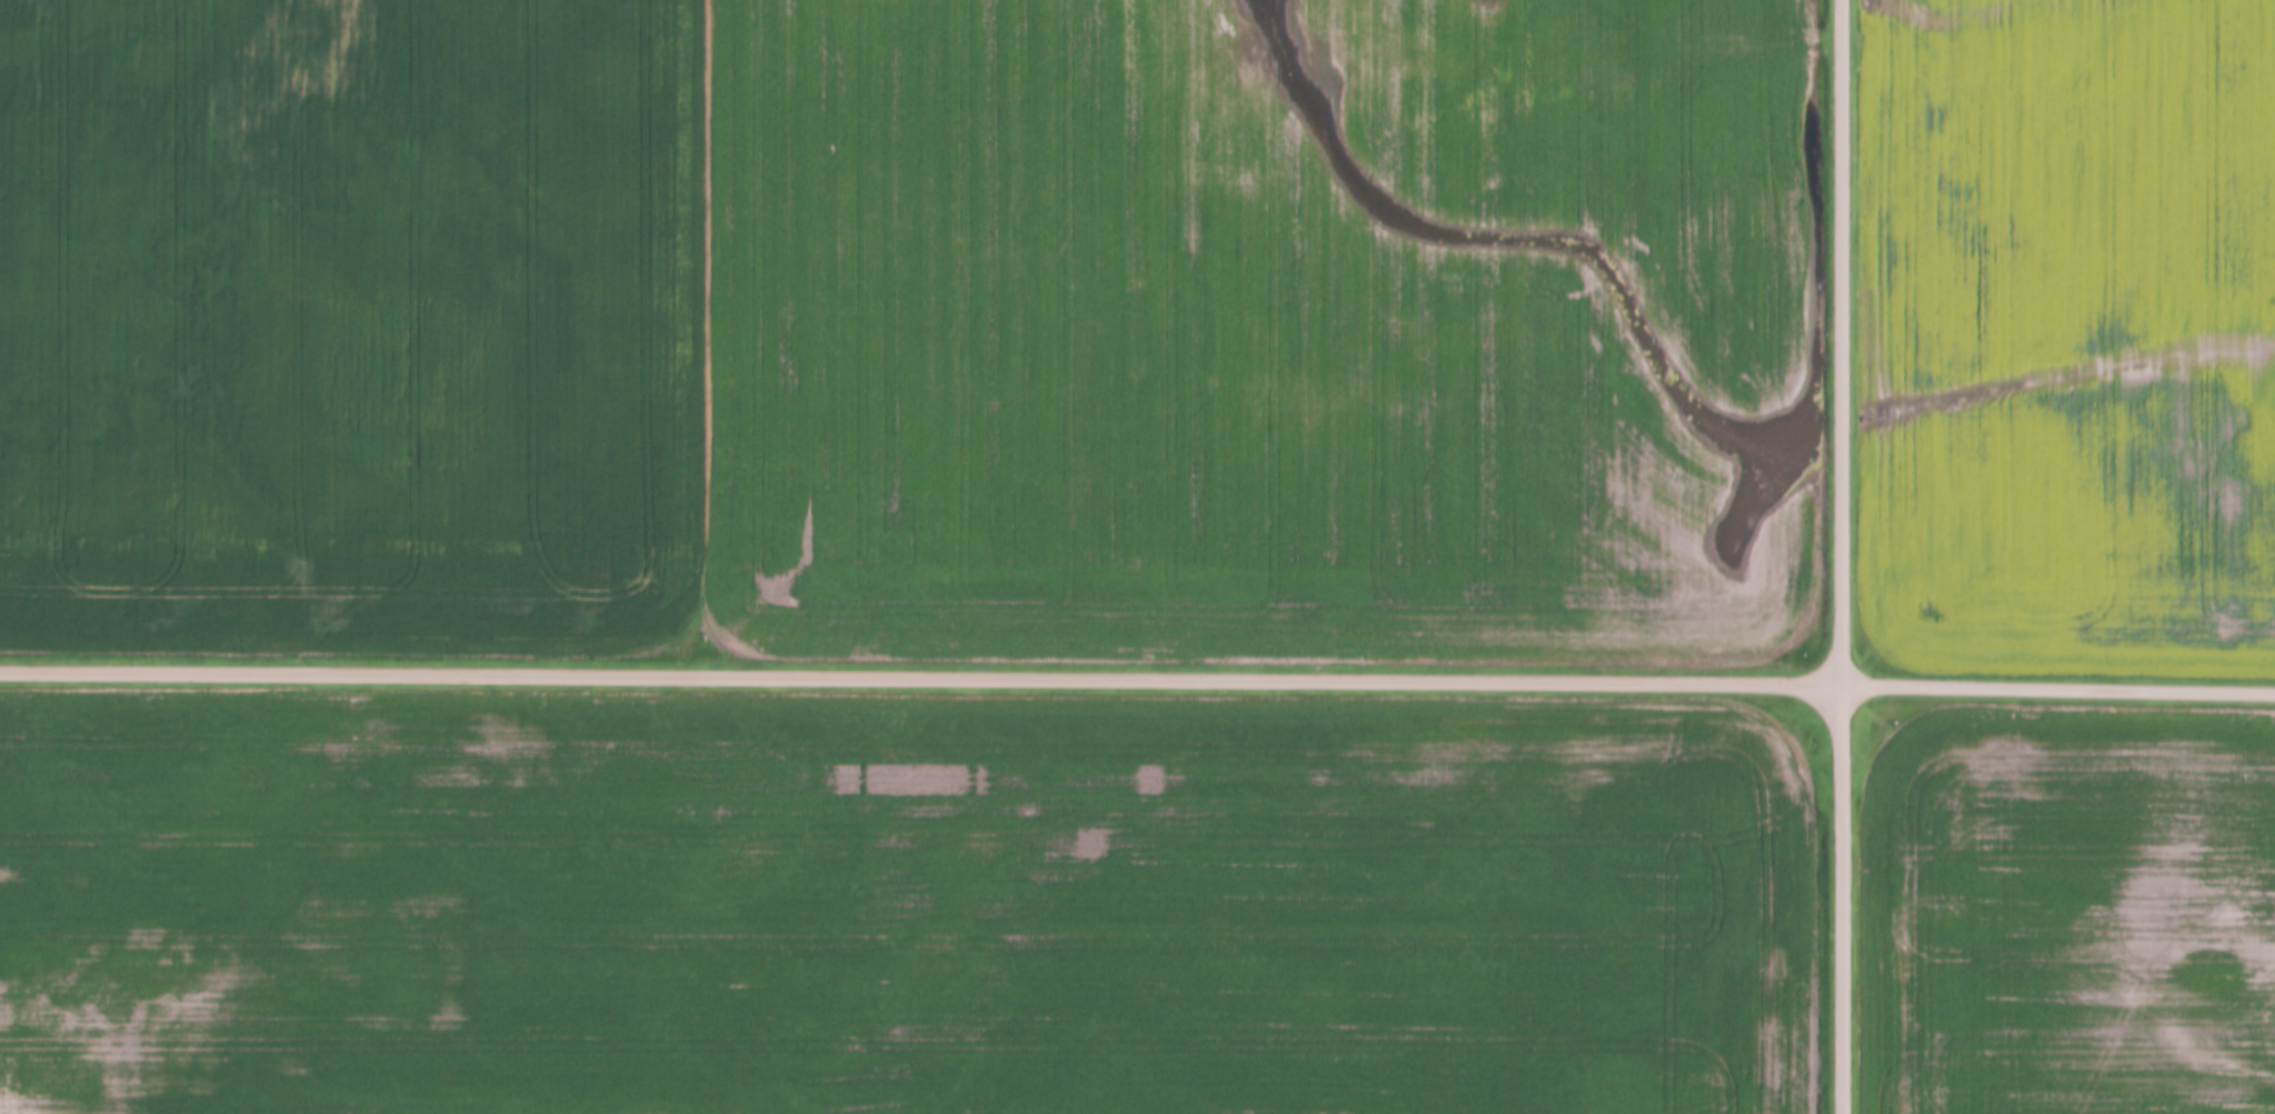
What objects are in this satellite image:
road: (1846, 556)
road: (1137, 681)

